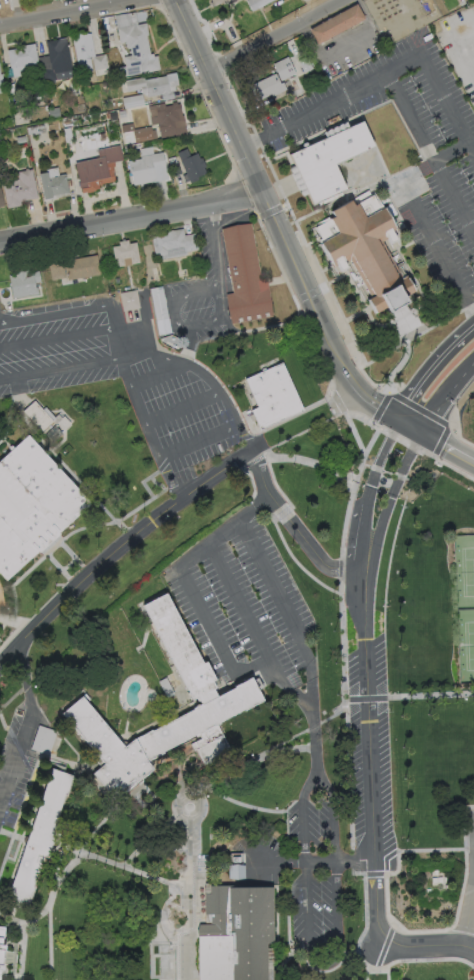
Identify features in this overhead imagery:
building: (468, 1)
building: (219, 3)
building: (257, 4)
road: (72, 13)
building: (407, 15)
building: (104, 21)
building: (336, 25)
building: (105, 28)
road: (272, 34)
building: (136, 52)
building: (88, 59)
building: (23, 61)
building: (56, 61)
building: (305, 65)
building: (284, 69)
road: (379, 76)
building: (328, 77)
building: (1, 85)
building: (154, 86)
building: (265, 88)
building: (297, 95)
building: (133, 102)
building: (116, 104)
road: (376, 105)
building: (80, 108)
building: (53, 113)
building: (124, 114)
building: (20, 117)
building: (167, 120)
building: (66, 121)
building: (36, 131)
building: (135, 135)
building: (20, 140)
road: (374, 144)
road: (451, 149)
road: (263, 151)
road: (430, 151)
road: (282, 153)
building: (327, 161)
building: (192, 165)
building: (174, 167)
building: (147, 169)
parking lot: (439, 169)
building: (99, 171)
building: (53, 185)
building: (19, 189)
road: (356, 191)
building: (1, 198)
road: (274, 218)
road: (293, 218)
road: (131, 219)
road: (428, 227)
road: (399, 237)
road: (311, 242)
building: (172, 243)
building: (366, 251)
building: (124, 253)
building: (80, 267)
road: (323, 269)
building: (56, 270)
road: (333, 272)
building: (244, 277)
road: (275, 281)
building: (22, 282)
road: (328, 283)
parking lot: (202, 291)
road: (218, 292)
road: (354, 292)
road: (435, 292)
building: (129, 300)
road: (179, 301)
building: (413, 303)
road: (48, 310)
building: (159, 310)
road: (354, 315)
road: (337, 316)
road: (441, 320)
road: (385, 325)
road: (102, 329)
road: (256, 329)
road: (51, 338)
road: (384, 353)
road: (401, 364)
road: (123, 365)
road: (50, 366)
road: (432, 369)
road: (163, 377)
parking lot: (122, 378)
building: (272, 396)
road: (446, 396)
road: (226, 405)
road: (3, 408)
road: (184, 408)
road: (379, 409)
building: (35, 418)
building: (61, 424)
road: (410, 425)
road: (455, 431)
traffic signals: (422, 432)
road: (2, 436)
road: (1, 439)
road: (199, 440)
road: (157, 445)
road: (447, 446)
road: (314, 465)
road: (65, 467)
road: (145, 479)
road: (274, 483)
road: (157, 484)
road: (366, 499)
building: (32, 504)
road: (387, 505)
road: (281, 513)
road: (294, 530)
road: (66, 538)
road: (117, 550)
road: (71, 554)
road: (67, 563)
road: (297, 565)
road: (57, 567)
park: (468, 570)
road: (75, 572)
road: (5, 586)
parking lot: (242, 606)
road: (242, 609)
road: (285, 611)
road: (5, 619)
road: (10, 639)
park: (469, 643)
road: (226, 659)
building: (166, 688)
building: (193, 694)
road: (431, 695)
road: (13, 696)
road: (367, 699)
parking lot: (373, 713)
road: (3, 723)
road: (27, 731)
building: (43, 741)
road: (274, 746)
building: (107, 750)
road: (185, 751)
road: (347, 751)
parking lot: (17, 762)
road: (186, 775)
parking lot: (362, 778)
road: (371, 783)
road: (196, 793)
road: (292, 801)
road: (184, 804)
road: (241, 804)
road: (285, 834)
road: (12, 836)
road: (152, 836)
building: (40, 837)
parking lot: (471, 844)
road: (455, 849)
road: (79, 851)
road: (15, 852)
road: (6, 853)
road: (81, 857)
road: (302, 861)
road: (118, 867)
road: (374, 873)
building: (236, 874)
parking lot: (312, 877)
building: (438, 877)
road: (305, 886)
road: (185, 895)
road: (14, 910)
road: (468, 913)
road: (27, 924)
fountain: (205, 931)
road: (406, 931)
building: (234, 932)
building: (1, 943)
road: (441, 945)
road: (178, 947)
road: (21, 952)
road: (153, 965)
road: (274, 968)
road: (365, 972)
road: (387, 972)
road: (160, 977)

